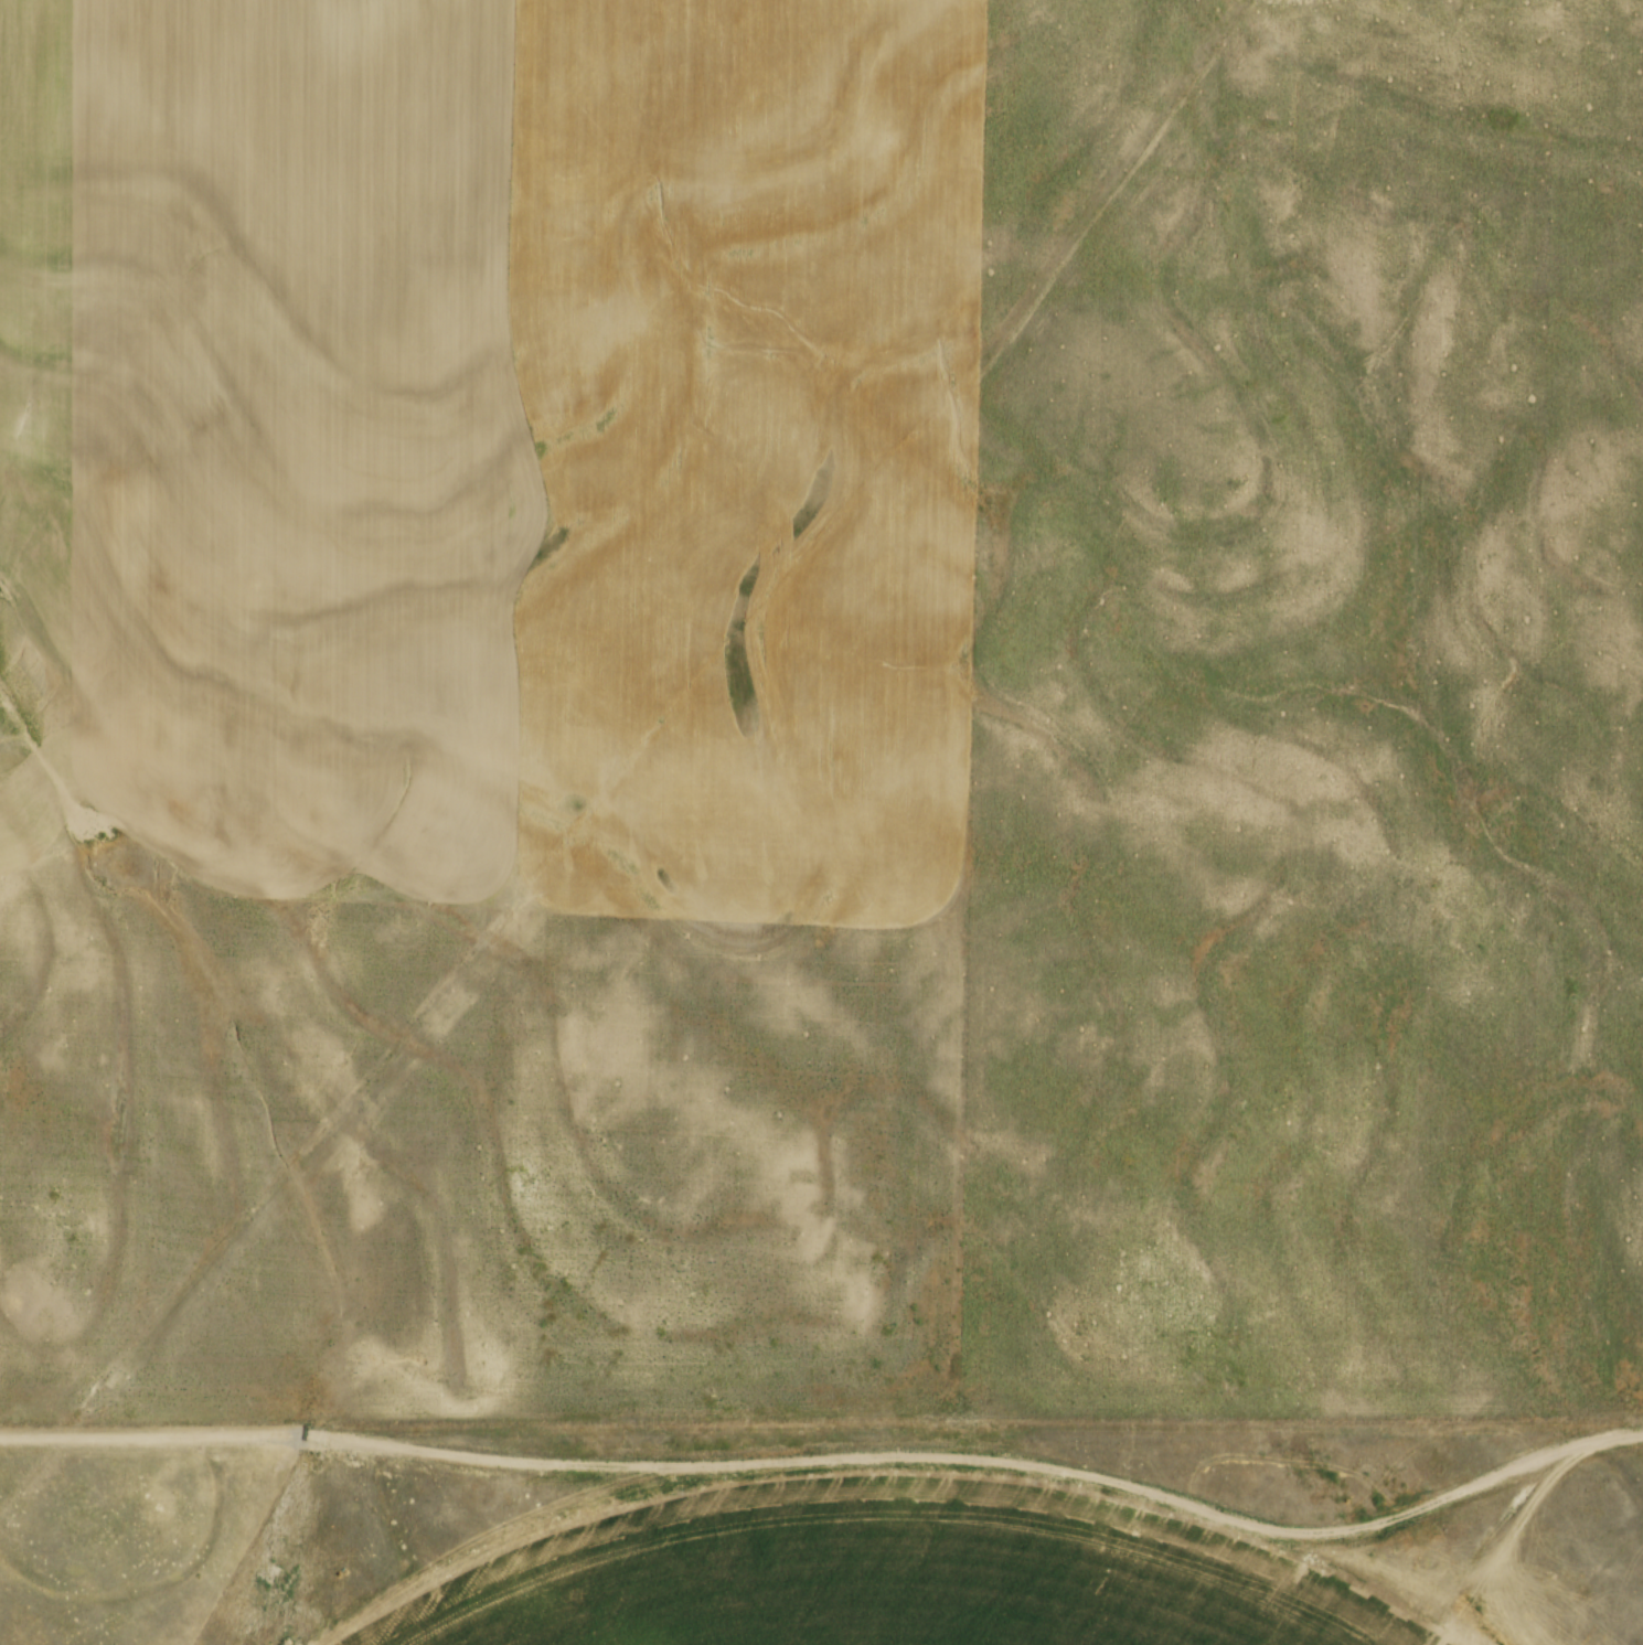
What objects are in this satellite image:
crop: (483, 698)
road: (834, 1449)

